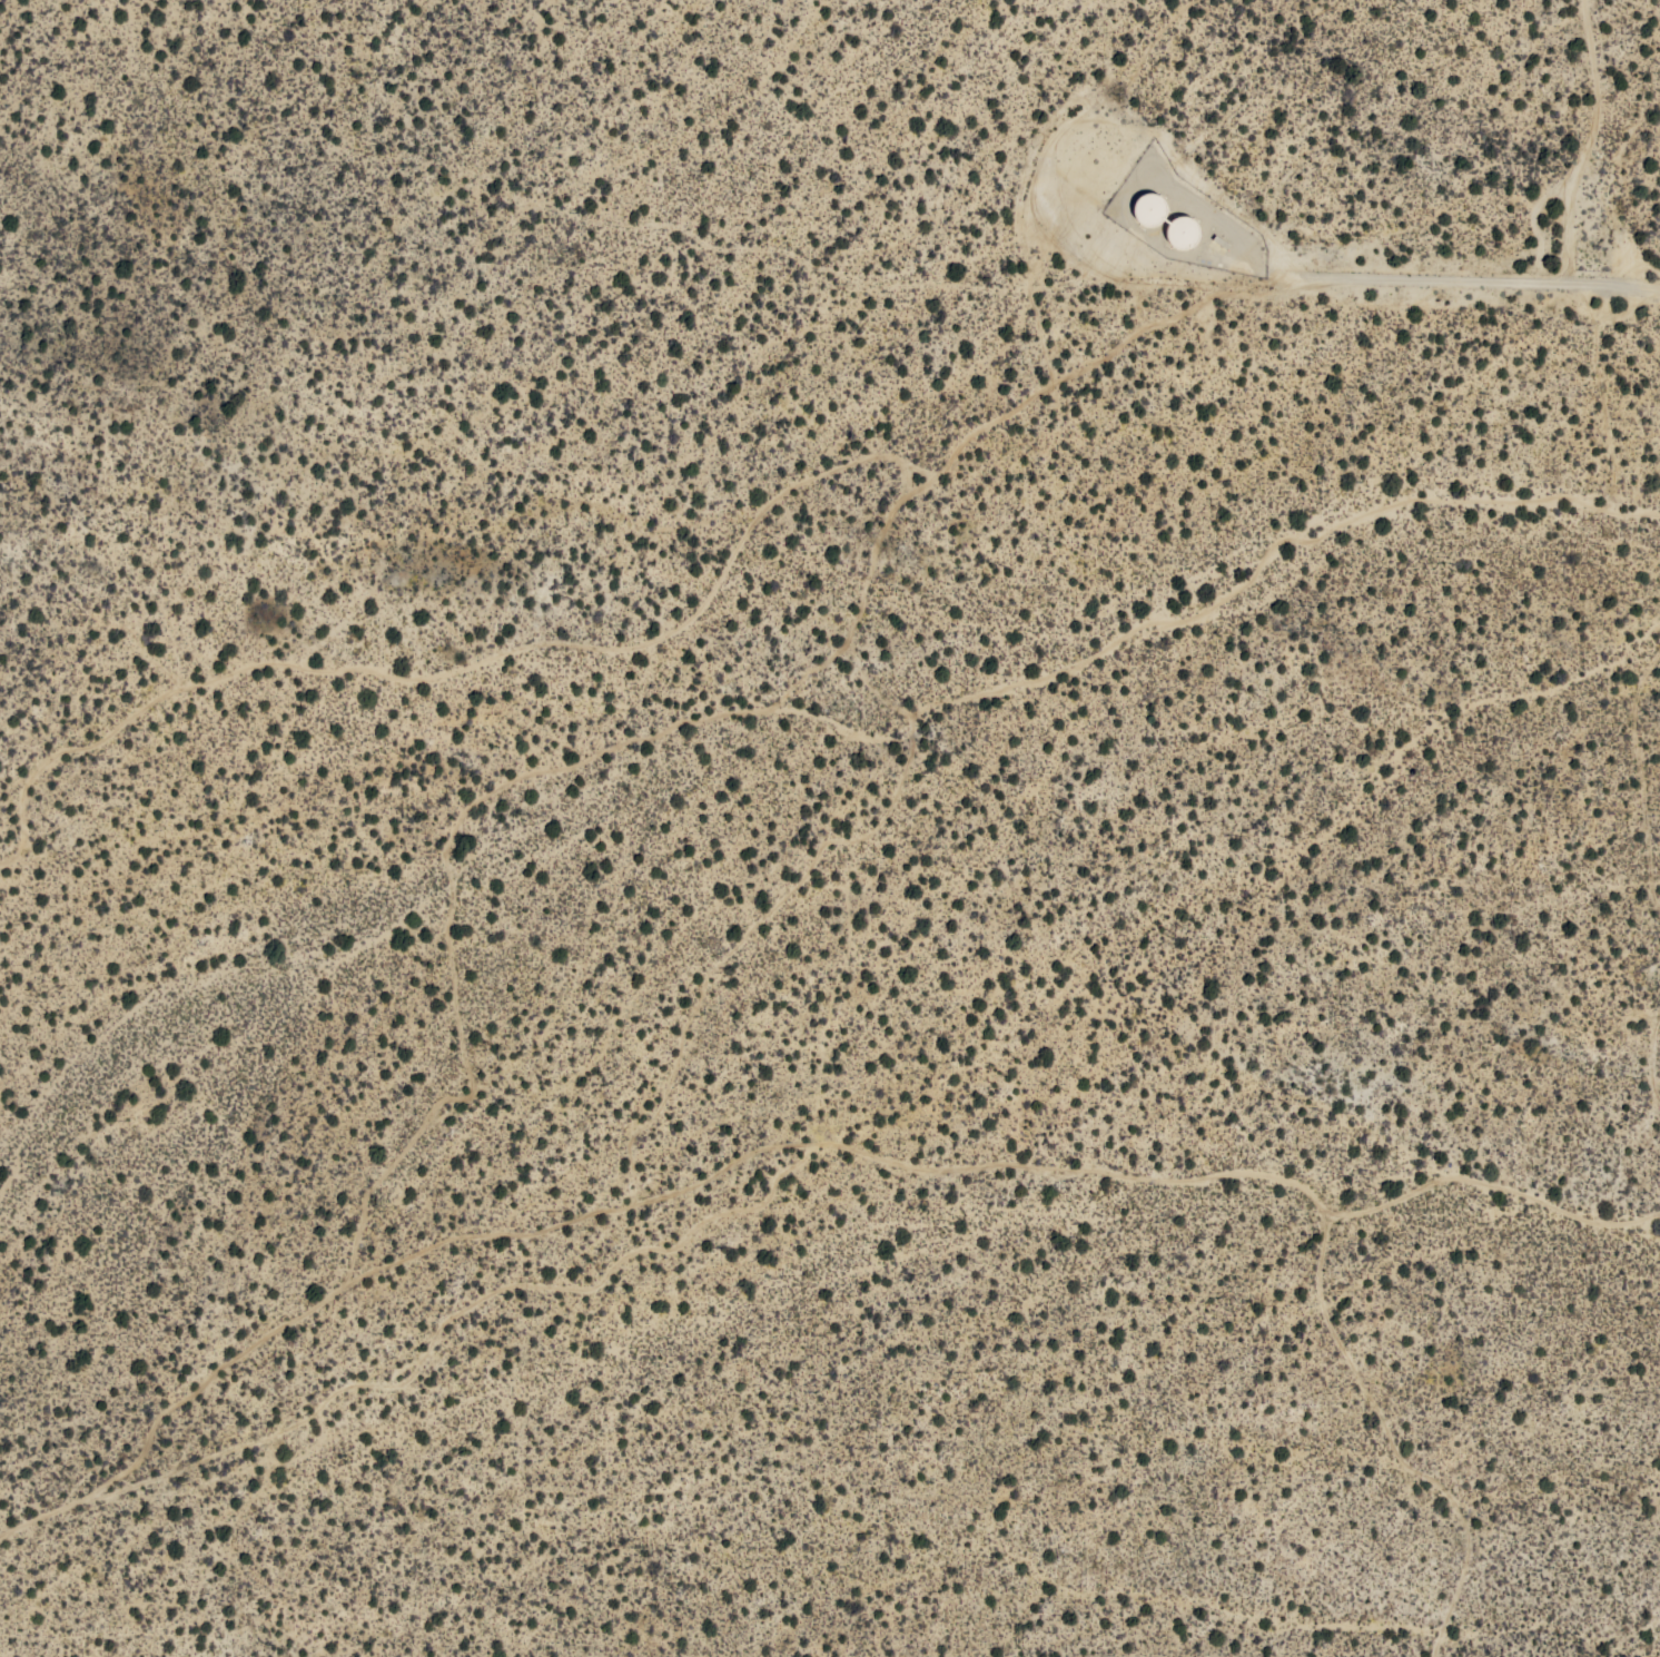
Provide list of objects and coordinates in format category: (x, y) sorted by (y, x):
road: (1577, 184)
building: (1148, 208)
building: (1182, 231)
road: (1421, 278)

